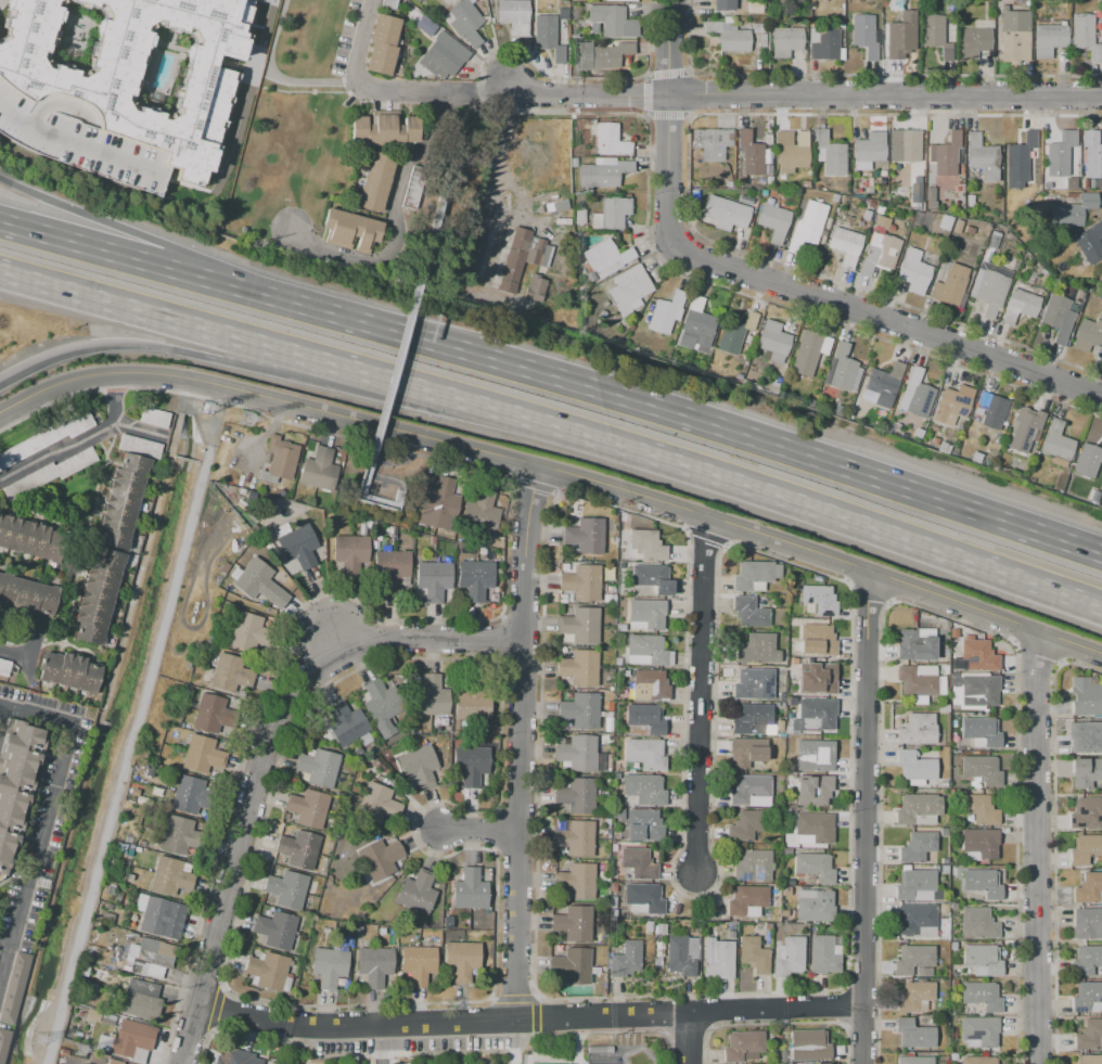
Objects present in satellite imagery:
building: (615, 0)
building: (388, 3)
building: (723, 4)
building: (896, 4)
building: (754, 7)
building: (562, 14)
building: (513, 15)
building: (463, 22)
building: (611, 22)
building: (758, 28)
building: (729, 35)
building: (864, 35)
building: (936, 35)
building: (1014, 35)
building: (546, 36)
building: (900, 36)
building: (1085, 36)
building: (1048, 39)
building: (761, 40)
building: (785, 41)
building: (973, 42)
building: (823, 43)
building: (382, 44)
building: (435, 46)
road: (667, 47)
building: (756, 53)
building: (605, 55)
road: (240, 68)
building: (132, 69)
road: (272, 75)
road: (392, 89)
road: (533, 91)
road: (884, 95)
road: (611, 97)
building: (384, 129)
building: (77, 140)
parking garage: (77, 140)
road: (503, 140)
building: (608, 140)
building: (768, 140)
building: (712, 143)
road: (69, 145)
building: (905, 145)
building: (869, 150)
building: (749, 154)
building: (793, 154)
building: (829, 154)
building: (946, 154)
building: (1060, 154)
building: (1091, 154)
building: (982, 157)
building: (1018, 162)
building: (574, 163)
building: (768, 169)
building: (603, 172)
building: (882, 172)
building: (867, 175)
building: (374, 180)
building: (769, 181)
building: (805, 184)
building: (1046, 184)
building: (412, 188)
building: (915, 190)
building: (763, 192)
road: (459, 195)
building: (834, 197)
building: (930, 198)
building: (745, 201)
building: (969, 201)
building: (1072, 209)
building: (726, 213)
building: (611, 214)
building: (866, 215)
building: (579, 217)
road: (393, 218)
building: (774, 220)
building: (944, 222)
building: (957, 226)
building: (809, 227)
building: (350, 230)
building: (992, 241)
road: (156, 242)
building: (1089, 243)
building: (846, 246)
building: (474, 248)
building: (879, 253)
building: (522, 257)
building: (605, 258)
building: (559, 265)
building: (912, 271)
building: (590, 275)
road: (151, 284)
building: (950, 286)
building: (989, 287)
building: (535, 289)
building: (629, 290)
building: (1100, 292)
building: (549, 294)
road: (812, 297)
building: (1021, 303)
building: (666, 312)
building: (1058, 316)
building: (695, 325)
building: (734, 332)
building: (1088, 334)
building: (774, 341)
road: (258, 344)
building: (809, 354)
road: (255, 367)
building: (713, 367)
building: (842, 370)
building: (883, 385)
building: (917, 395)
building: (952, 403)
building: (856, 411)
building: (992, 411)
power tower: (207, 412)
building: (154, 418)
power tower: (249, 421)
road: (384, 424)
road: (137, 428)
building: (1024, 428)
building: (917, 434)
road: (703, 436)
building: (44, 438)
road: (76, 439)
building: (1056, 441)
building: (139, 447)
building: (944, 448)
building: (281, 457)
building: (975, 457)
building: (1087, 460)
road: (388, 464)
building: (320, 470)
building: (49, 473)
road: (555, 474)
building: (123, 500)
building: (436, 503)
road: (810, 505)
building: (479, 512)
building: (586, 536)
building: (29, 538)
building: (646, 546)
building: (297, 548)
building: (349, 553)
building: (390, 568)
building: (755, 574)
building: (475, 578)
building: (652, 578)
building: (256, 580)
building: (433, 580)
building: (581, 582)
building: (27, 597)
building: (98, 597)
building: (819, 599)
building: (646, 613)
building: (749, 613)
building: (580, 625)
building: (248, 633)
building: (818, 641)
building: (914, 646)
building: (649, 649)
building: (758, 650)
road: (14, 652)
building: (978, 655)
building: (4, 668)
building: (579, 668)
building: (69, 672)
building: (230, 674)
building: (817, 678)
building: (915, 681)
building: (653, 683)
building: (753, 684)
building: (976, 690)
road: (700, 695)
building: (1086, 696)
building: (430, 697)
building: (472, 701)
building: (190, 703)
building: (382, 705)
building: (580, 710)
road: (1, 712)
building: (213, 714)
building: (816, 714)
building: (645, 718)
building: (752, 719)
building: (345, 723)
building: (917, 730)
building: (981, 730)
building: (1088, 739)
road: (520, 743)
road: (260, 753)
building: (577, 753)
building: (645, 754)
building: (743, 754)
building: (813, 755)
building: (201, 756)
building: (470, 764)
building: (419, 766)
building: (915, 766)
building: (317, 767)
building: (982, 770)
building: (1085, 772)
building: (16, 782)
building: (747, 789)
building: (645, 790)
building: (812, 790)
building: (134, 793)
building: (191, 795)
building: (576, 795)
building: (379, 804)
building: (917, 807)
building: (307, 808)
building: (979, 809)
road: (44, 811)
building: (1086, 813)
road: (864, 818)
building: (638, 824)
building: (745, 825)
building: (815, 826)
road: (478, 830)
building: (180, 837)
building: (575, 837)
building: (981, 843)
building: (915, 847)
building: (298, 848)
road: (1035, 848)
building: (1085, 849)
building: (380, 858)
building: (638, 863)
building: (752, 866)
building: (813, 867)
building: (170, 876)
building: (577, 881)
building: (913, 883)
building: (982, 883)
building: (1088, 888)
building: (285, 889)
building: (470, 889)
building: (415, 892)
building: (643, 897)
building: (745, 899)
building: (815, 907)
building: (158, 916)
building: (917, 920)
building: (573, 924)
building: (977, 924)
building: (1087, 924)
building: (274, 930)
building: (753, 954)
building: (822, 954)
building: (151, 956)
building: (679, 957)
building: (789, 958)
building: (626, 959)
building: (717, 959)
building: (912, 959)
building: (983, 959)
building: (460, 960)
building: (1086, 960)
building: (419, 964)
building: (373, 965)
building: (576, 965)
building: (329, 967)
building: (267, 970)
building: (13, 986)
building: (981, 996)
building: (1086, 996)
road: (534, 997)
building: (915, 997)
road: (512, 999)
building: (140, 1000)
building: (92, 1015)
road: (531, 1016)
building: (107, 1020)
road: (528, 1020)
road: (683, 1030)
building: (979, 1030)
building: (913, 1034)
building: (1088, 1035)
building: (127, 1039)
road: (685, 1039)
building: (2, 1042)
power tower: (38, 1043)
road: (294, 1044)
road: (379, 1044)
building: (807, 1044)
building: (742, 1047)
road: (576, 1048)
road: (495, 1050)
power tower: (79, 1051)
building: (236, 1057)
track: (637, 1057)
building: (914, 1060)
building: (978, 1060)
building: (1090, 1060)
building: (114, 1062)
building: (527, 1063)

